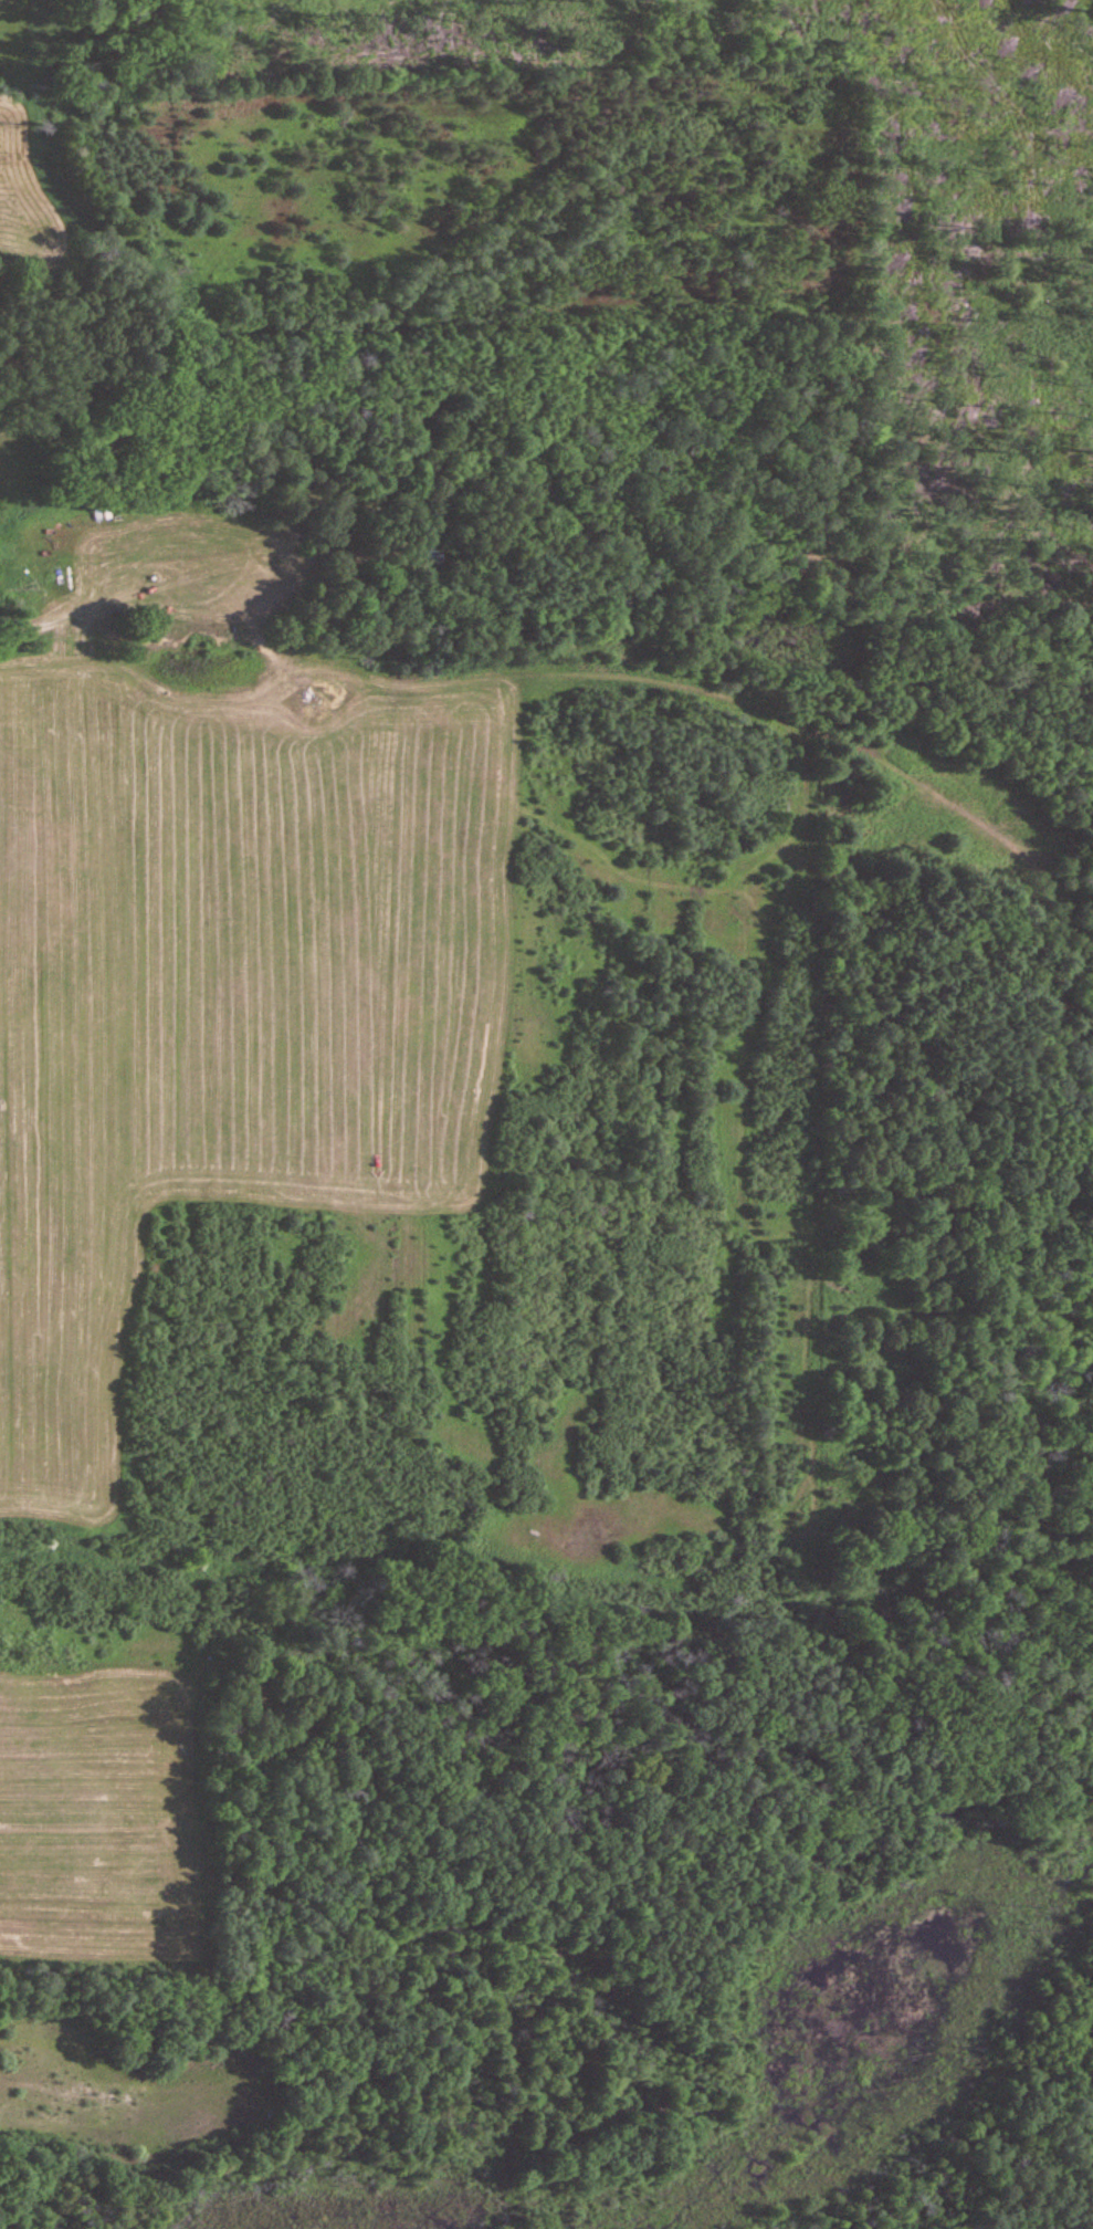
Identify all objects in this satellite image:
building: (424, 556)
road: (67, 620)

